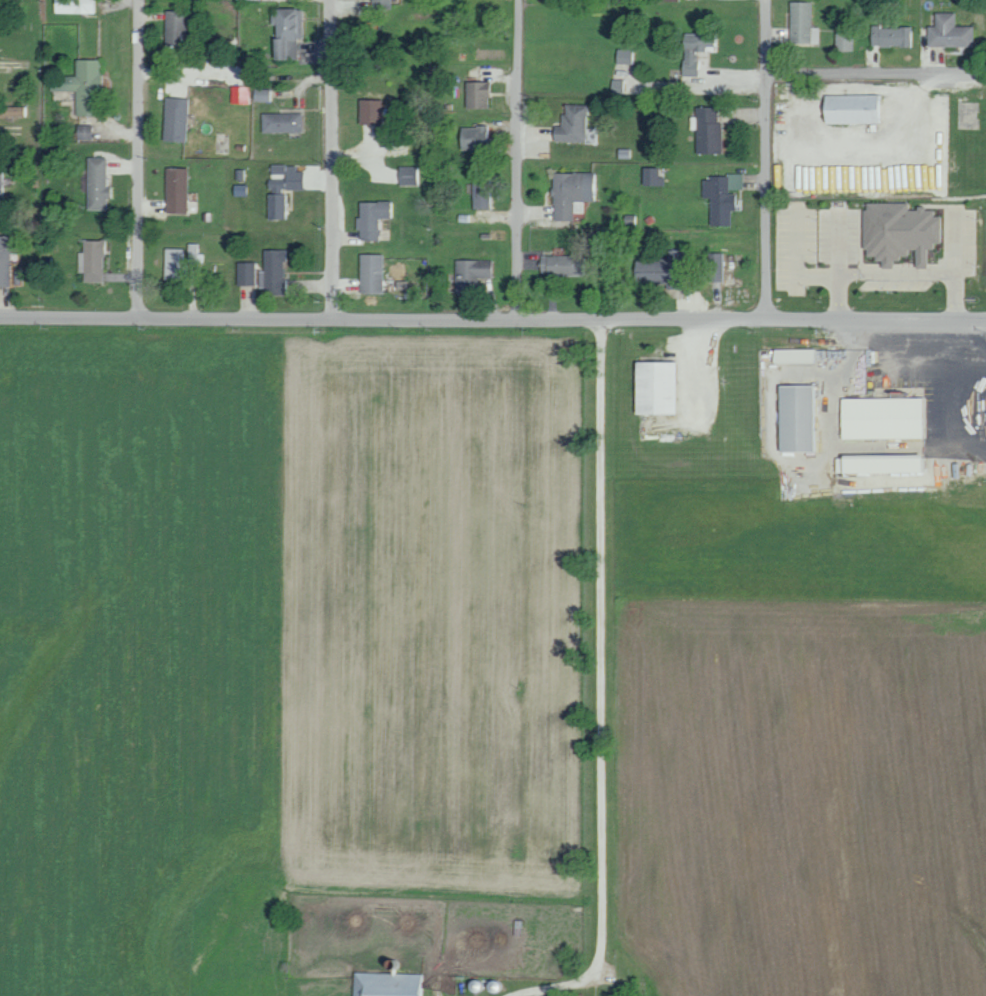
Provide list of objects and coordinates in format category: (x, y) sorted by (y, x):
building: (668, 0)
building: (379, 4)
building: (73, 6)
building: (802, 24)
building: (174, 27)
building: (285, 32)
building: (947, 32)
building: (889, 36)
building: (843, 42)
building: (693, 50)
building: (625, 56)
road: (874, 72)
building: (82, 85)
road: (691, 86)
building: (238, 94)
building: (259, 94)
building: (475, 95)
building: (850, 108)
building: (13, 111)
building: (368, 111)
building: (173, 119)
building: (279, 122)
building: (570, 124)
building: (706, 130)
building: (83, 132)
building: (474, 138)
road: (138, 156)
road: (334, 157)
road: (518, 157)
road: (765, 159)
building: (406, 175)
building: (651, 177)
building: (283, 178)
building: (95, 184)
building: (174, 190)
building: (0, 191)
building: (480, 191)
building: (569, 193)
building: (720, 196)
building: (274, 206)
building: (369, 218)
building: (897, 232)
building: (4, 260)
building: (89, 260)
building: (182, 261)
building: (560, 265)
building: (715, 267)
building: (272, 272)
building: (245, 273)
building: (369, 274)
building: (657, 274)
building: (469, 275)
road: (493, 315)
building: (792, 355)
building: (653, 388)
building: (795, 418)
building: (880, 418)
building: (881, 465)
crop: (439, 613)
crop: (136, 638)
road: (600, 687)
building: (385, 984)

